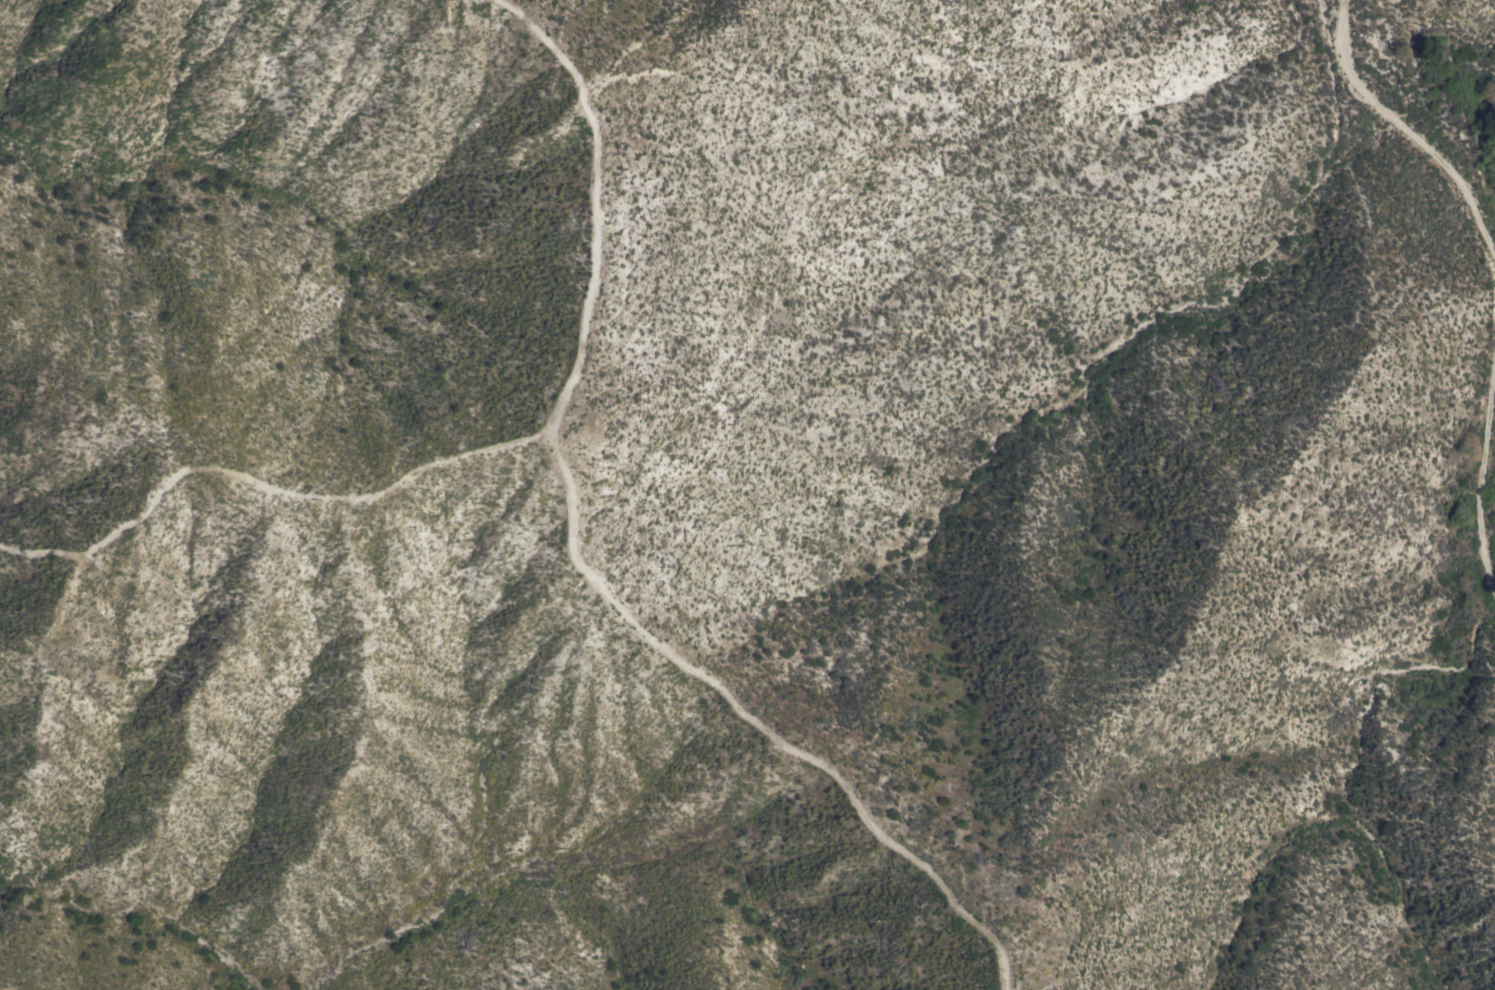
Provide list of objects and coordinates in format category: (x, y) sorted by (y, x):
road: (1409, 125)
road: (1489, 497)

